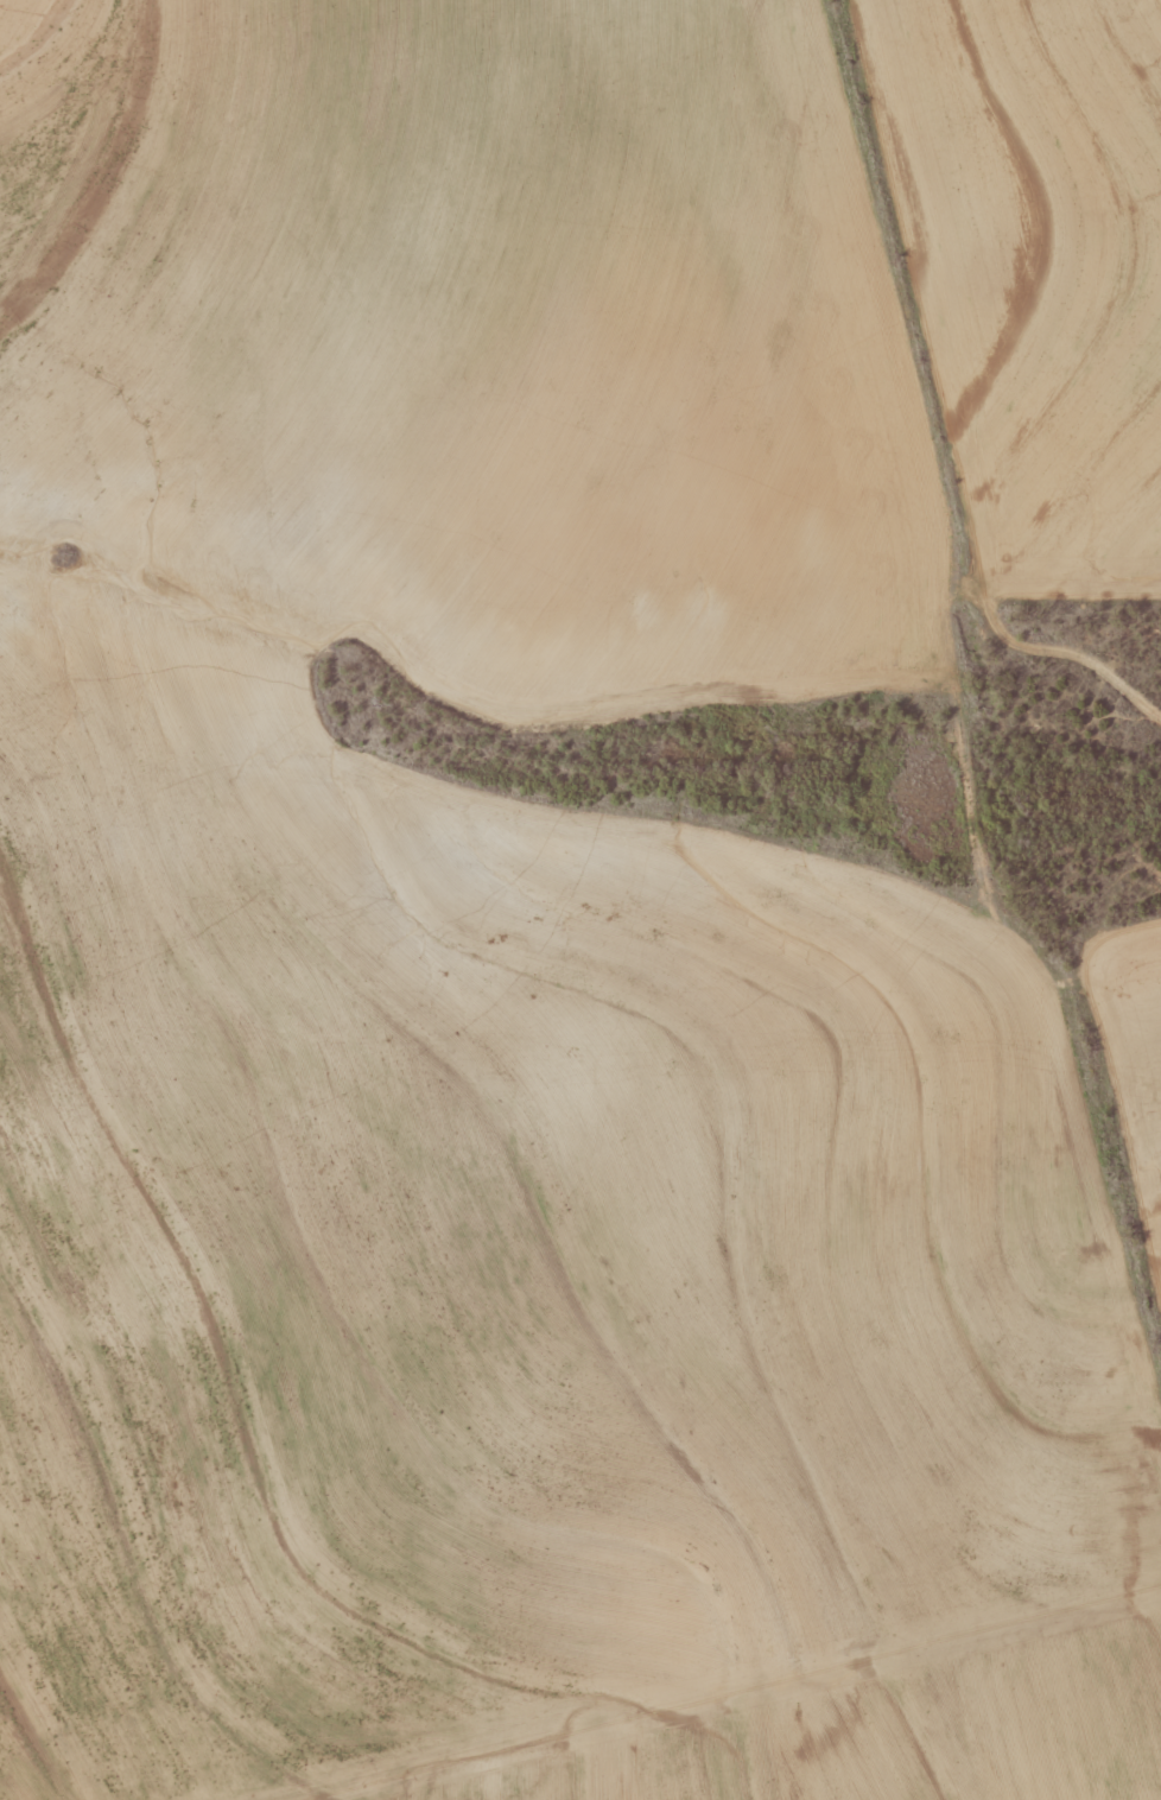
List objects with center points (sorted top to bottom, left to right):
road: (902, 422)
road: (1028, 857)
road: (1106, 1135)
road: (761, 1697)

